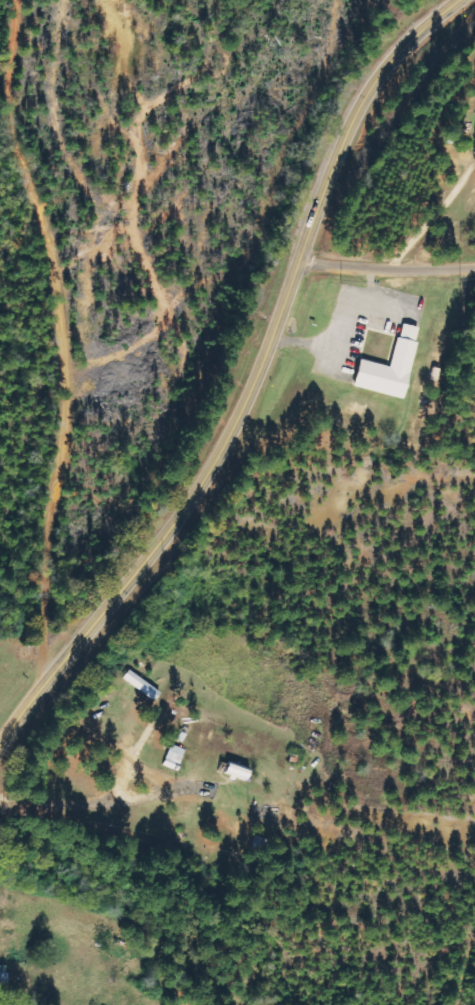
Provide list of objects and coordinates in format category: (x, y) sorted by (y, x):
road: (152, 265)
road: (385, 266)
road: (66, 336)
building: (393, 367)
road: (250, 379)
building: (241, 773)
road: (237, 831)
building: (4, 974)

